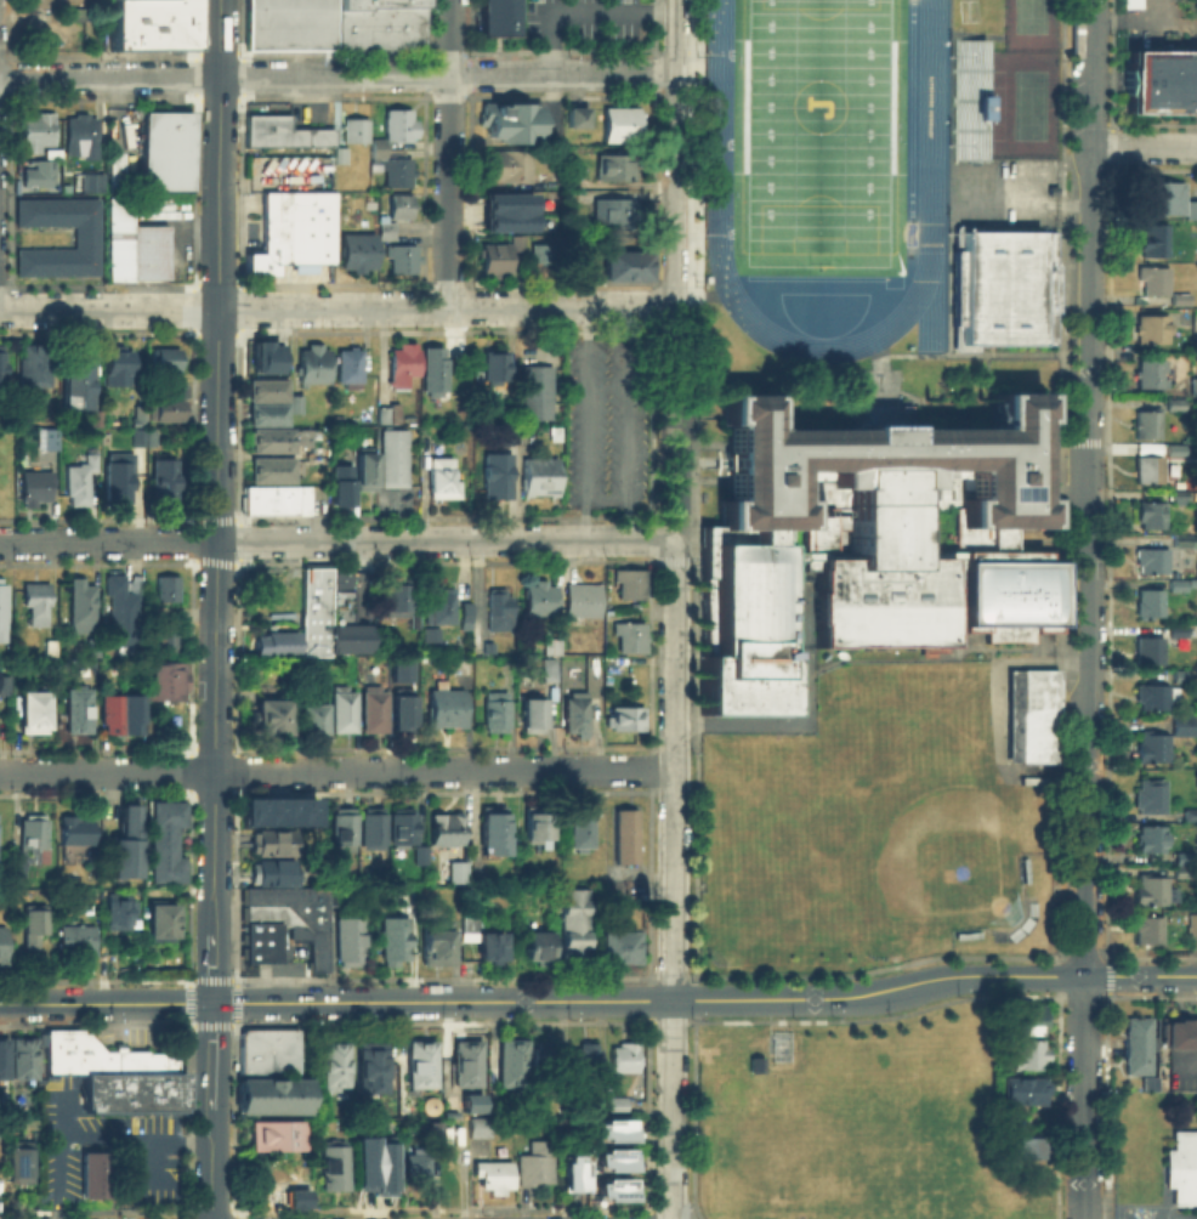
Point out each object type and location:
parking lot: (64, 1)
road: (589, 10)
park: (1029, 16)
building: (497, 17)
parking lot: (583, 17)
building: (155, 24)
building: (290, 24)
building: (380, 24)
parking lot: (52, 25)
road: (340, 75)
building: (1161, 81)
building: (968, 98)
park: (1029, 103)
building: (574, 115)
building: (509, 119)
building: (618, 123)
track: (930, 123)
park: (817, 125)
building: (401, 126)
building: (35, 129)
building: (78, 130)
building: (358, 130)
park: (817, 132)
building: (287, 136)
road: (1144, 148)
building: (165, 149)
building: (378, 149)
road: (449, 154)
road: (679, 155)
building: (342, 158)
building: (509, 168)
building: (622, 168)
building: (38, 171)
building: (399, 175)
building: (90, 180)
road: (1029, 197)
building: (1162, 199)
building: (402, 209)
building: (507, 210)
building: (615, 211)
building: (291, 229)
building: (84, 233)
building: (388, 233)
building: (1152, 240)
building: (137, 245)
building: (543, 251)
building: (359, 254)
building: (404, 261)
building: (498, 265)
building: (629, 268)
building: (1152, 279)
building: (1002, 287)
road: (339, 311)
building: (1150, 328)
building: (1193, 341)
building: (263, 355)
building: (169, 363)
building: (402, 365)
building: (316, 367)
building: (36, 368)
building: (4, 369)
building: (120, 370)
building: (351, 370)
building: (435, 370)
building: (497, 370)
building: (1148, 373)
building: (1192, 385)
building: (79, 387)
building: (266, 389)
building: (538, 395)
building: (1175, 402)
building: (297, 403)
building: (266, 413)
building: (392, 414)
building: (100, 419)
building: (155, 420)
building: (1147, 423)
road: (585, 424)
parking lot: (606, 424)
road: (624, 424)
road: (677, 424)
building: (277, 437)
building: (53, 441)
building: (396, 460)
building: (1147, 464)
building: (4, 465)
building: (271, 469)
building: (368, 471)
building: (883, 475)
building: (500, 478)
building: (446, 480)
building: (541, 480)
building: (166, 481)
building: (121, 482)
building: (83, 483)
building: (345, 487)
building: (38, 489)
building: (273, 501)
building: (1151, 514)
building: (971, 538)
building: (997, 538)
road: (337, 539)
building: (815, 540)
building: (1185, 540)
building: (942, 555)
building: (1150, 560)
building: (340, 579)
building: (628, 585)
building: (1005, 585)
building: (1178, 585)
road: (271, 588)
park: (267, 589)
building: (165, 591)
building: (395, 599)
building: (708, 599)
building: (537, 601)
building: (580, 601)
building: (437, 603)
building: (1148, 603)
building: (39, 605)
building: (342, 606)
building: (880, 606)
building: (85, 608)
road: (216, 609)
road: (1087, 609)
building: (314, 611)
building: (4, 612)
building: (498, 612)
building: (464, 614)
building: (125, 616)
road: (268, 618)
building: (1006, 629)
building: (1176, 630)
building: (430, 634)
building: (348, 636)
building: (747, 636)
building: (626, 637)
building: (160, 641)
building: (274, 646)
building: (487, 646)
building: (554, 647)
building: (55, 651)
building: (97, 651)
building: (1147, 651)
building: (399, 669)
building: (551, 673)
building: (163, 679)
building: (5, 687)
building: (1155, 696)
building: (373, 708)
building: (444, 708)
building: (342, 709)
building: (402, 710)
building: (109, 711)
building: (131, 711)
building: (80, 713)
building: (36, 715)
building: (535, 715)
building: (582, 715)
building: (1029, 715)
building: (267, 716)
building: (498, 716)
building: (313, 718)
building: (628, 720)
building: (1181, 724)
building: (1150, 745)
road: (336, 771)
building: (1147, 795)
building: (277, 810)
building: (164, 812)
building: (341, 824)
building: (370, 827)
building: (407, 828)
building: (541, 828)
building: (584, 829)
building: (76, 830)
building: (160, 832)
building: (449, 832)
building: (498, 832)
building: (622, 837)
building: (1150, 839)
building: (271, 843)
building: (33, 846)
building: (127, 846)
building: (160, 849)
park: (934, 850)
building: (424, 856)
building: (1182, 856)
building: (1182, 867)
building: (164, 869)
building: (271, 872)
building: (461, 874)
road: (673, 879)
building: (1152, 891)
building: (123, 914)
building: (282, 922)
building: (163, 923)
building: (35, 926)
building: (575, 928)
building: (1148, 928)
building: (484, 940)
building: (79, 942)
building: (398, 942)
building: (351, 945)
building: (439, 945)
building: (613, 946)
building: (2, 947)
building: (539, 947)
road: (1036, 976)
road: (545, 1000)
road: (106, 1003)
traffic signals: (214, 1003)
building: (1026, 1017)
building: (1179, 1033)
building: (273, 1050)
building: (1136, 1050)
building: (1026, 1053)
building: (100, 1054)
building: (544, 1055)
building: (22, 1056)
building: (4, 1058)
building: (583, 1058)
building: (620, 1058)
building: (464, 1060)
building: (509, 1060)
building: (334, 1062)
building: (416, 1062)
building: (368, 1065)
building: (1022, 1090)
building: (130, 1092)
building: (268, 1095)
building: (476, 1104)
building: (614, 1105)
building: (480, 1129)
building: (609, 1129)
building: (276, 1134)
road: (136, 1136)
parking lot: (108, 1140)
building: (1028, 1149)
building: (609, 1158)
building: (378, 1163)
building: (24, 1164)
building: (413, 1167)
building: (538, 1167)
building: (1181, 1167)
building: (329, 1168)
building: (92, 1175)
building: (574, 1175)
road: (57, 1177)
building: (495, 1178)
building: (608, 1189)

